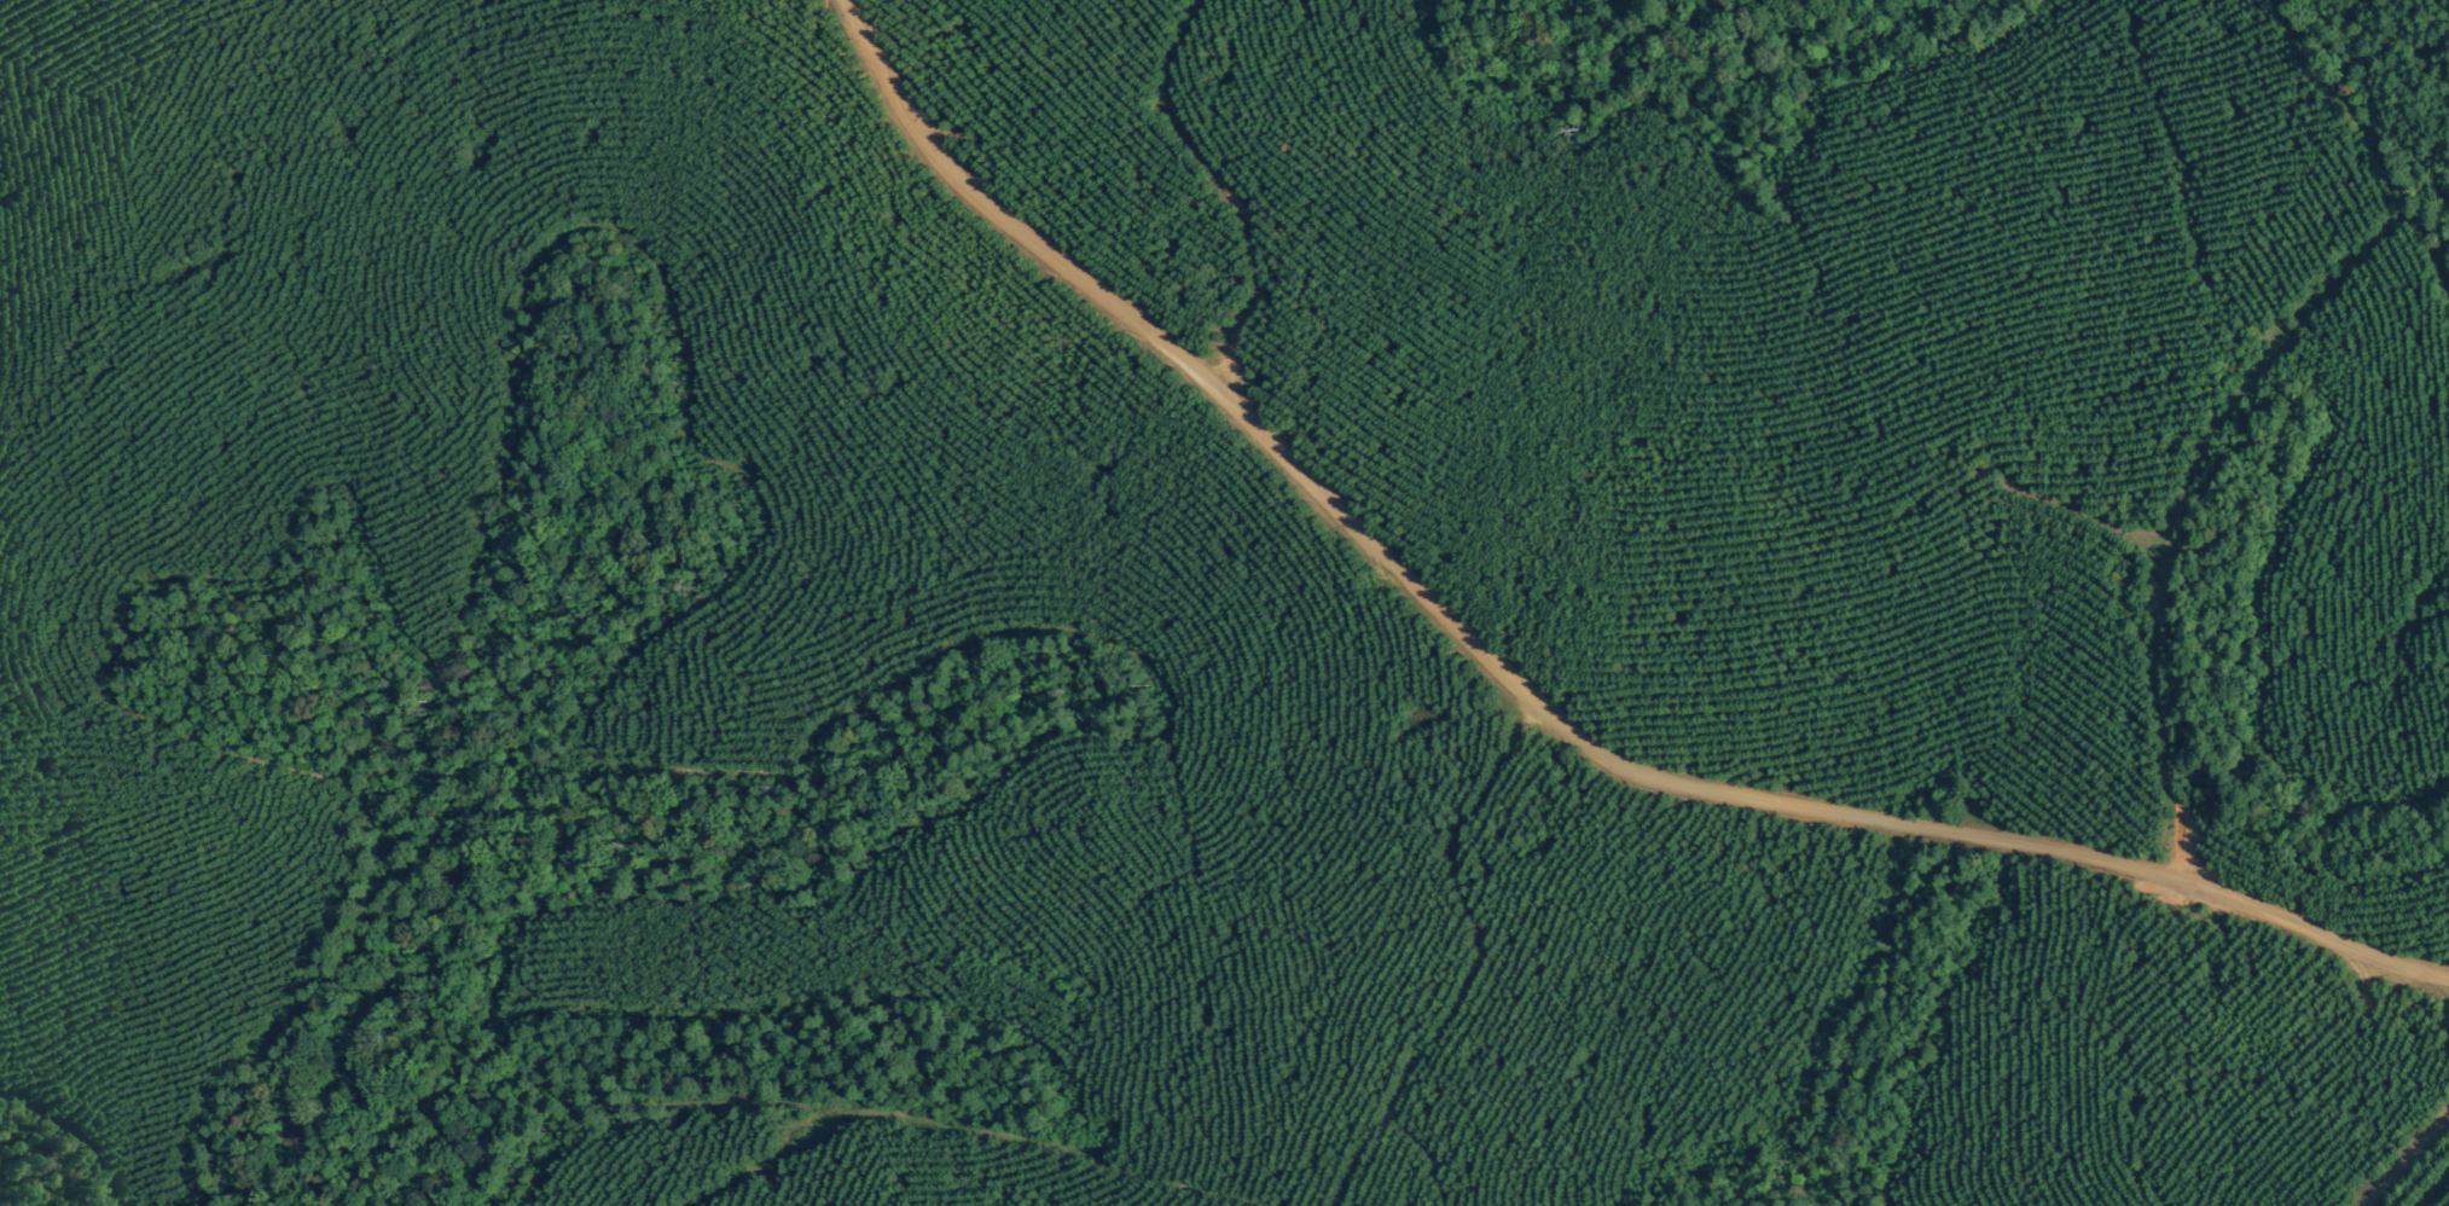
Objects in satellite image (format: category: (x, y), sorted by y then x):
road: (1515, 678)
road: (1232, 871)
road: (2433, 1189)

